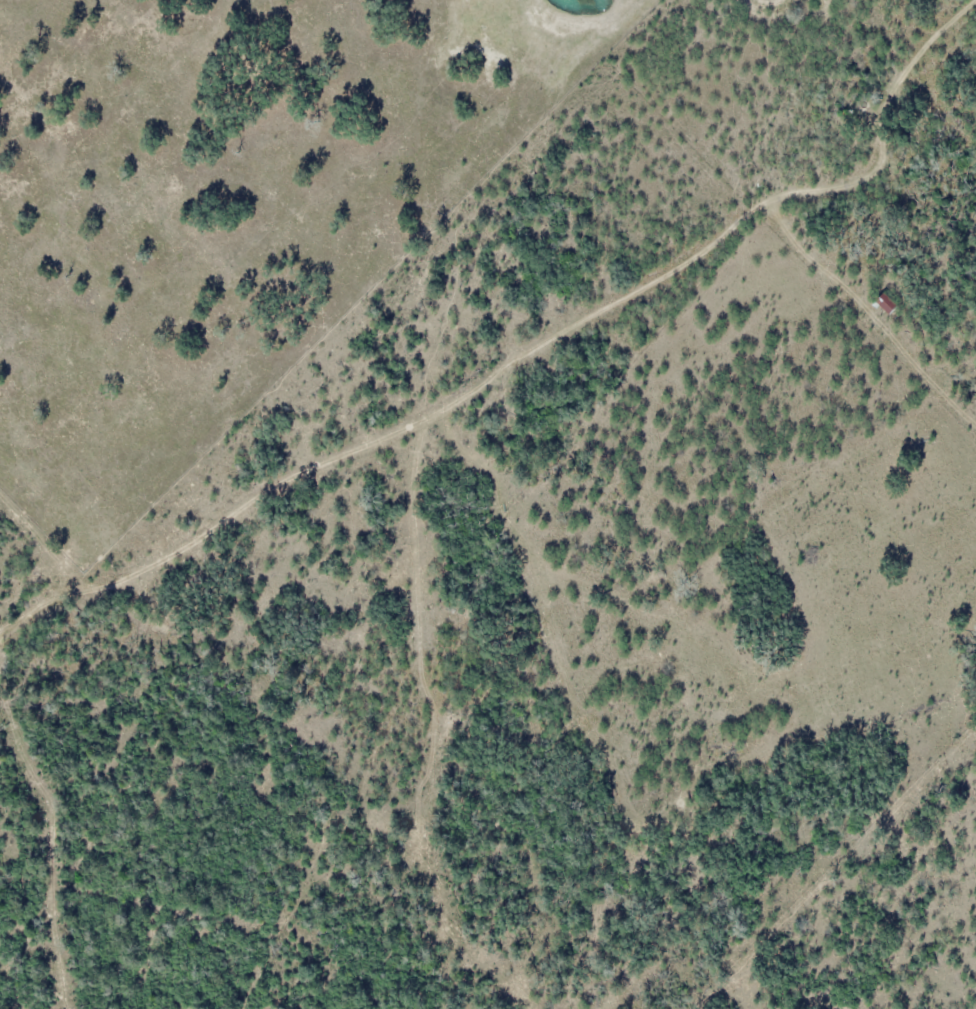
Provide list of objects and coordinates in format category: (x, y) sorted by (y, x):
building: (889, 304)

